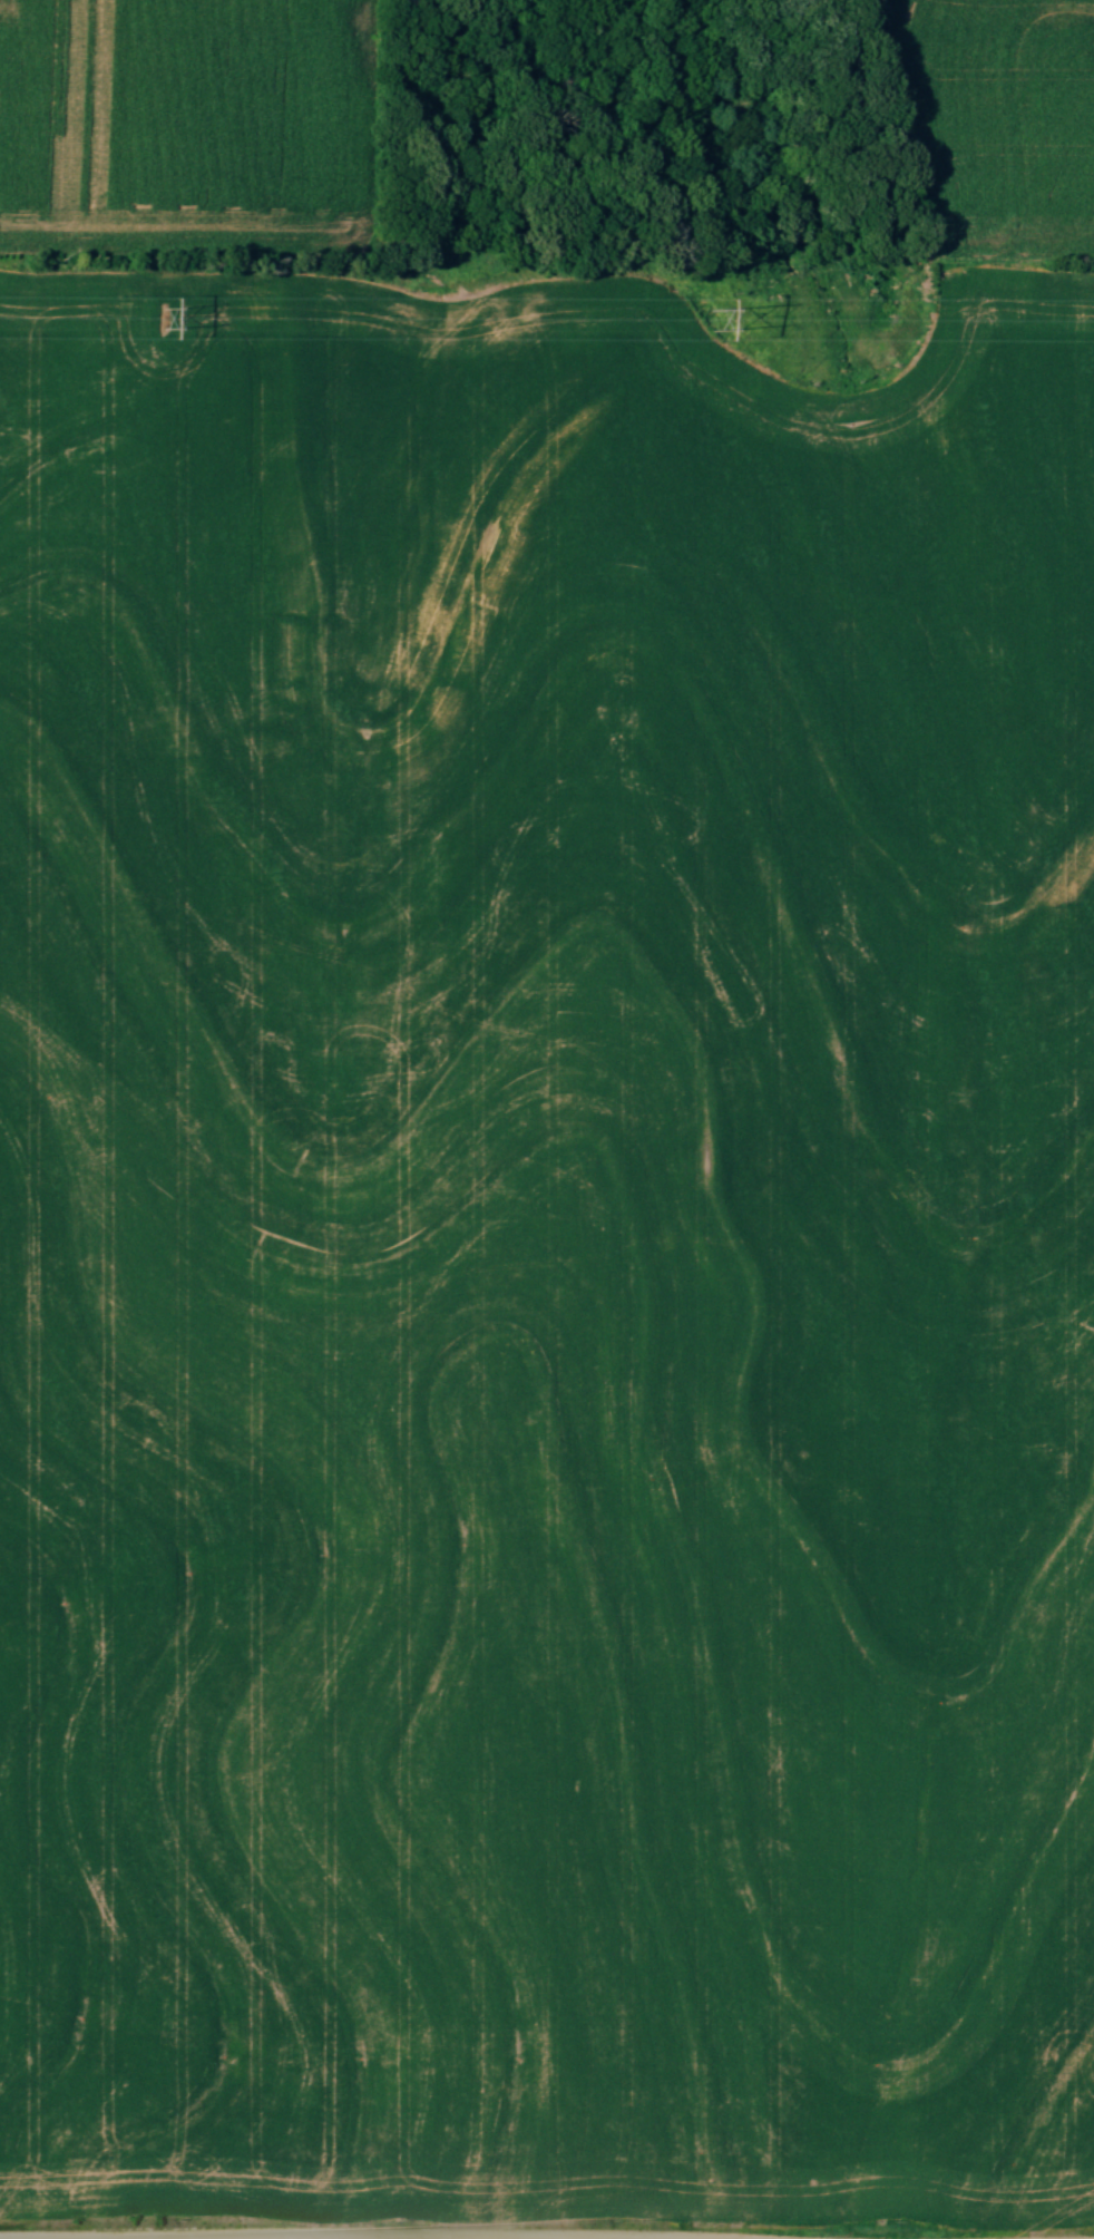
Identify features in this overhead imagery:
power tower: (164, 319)
power tower: (711, 319)

